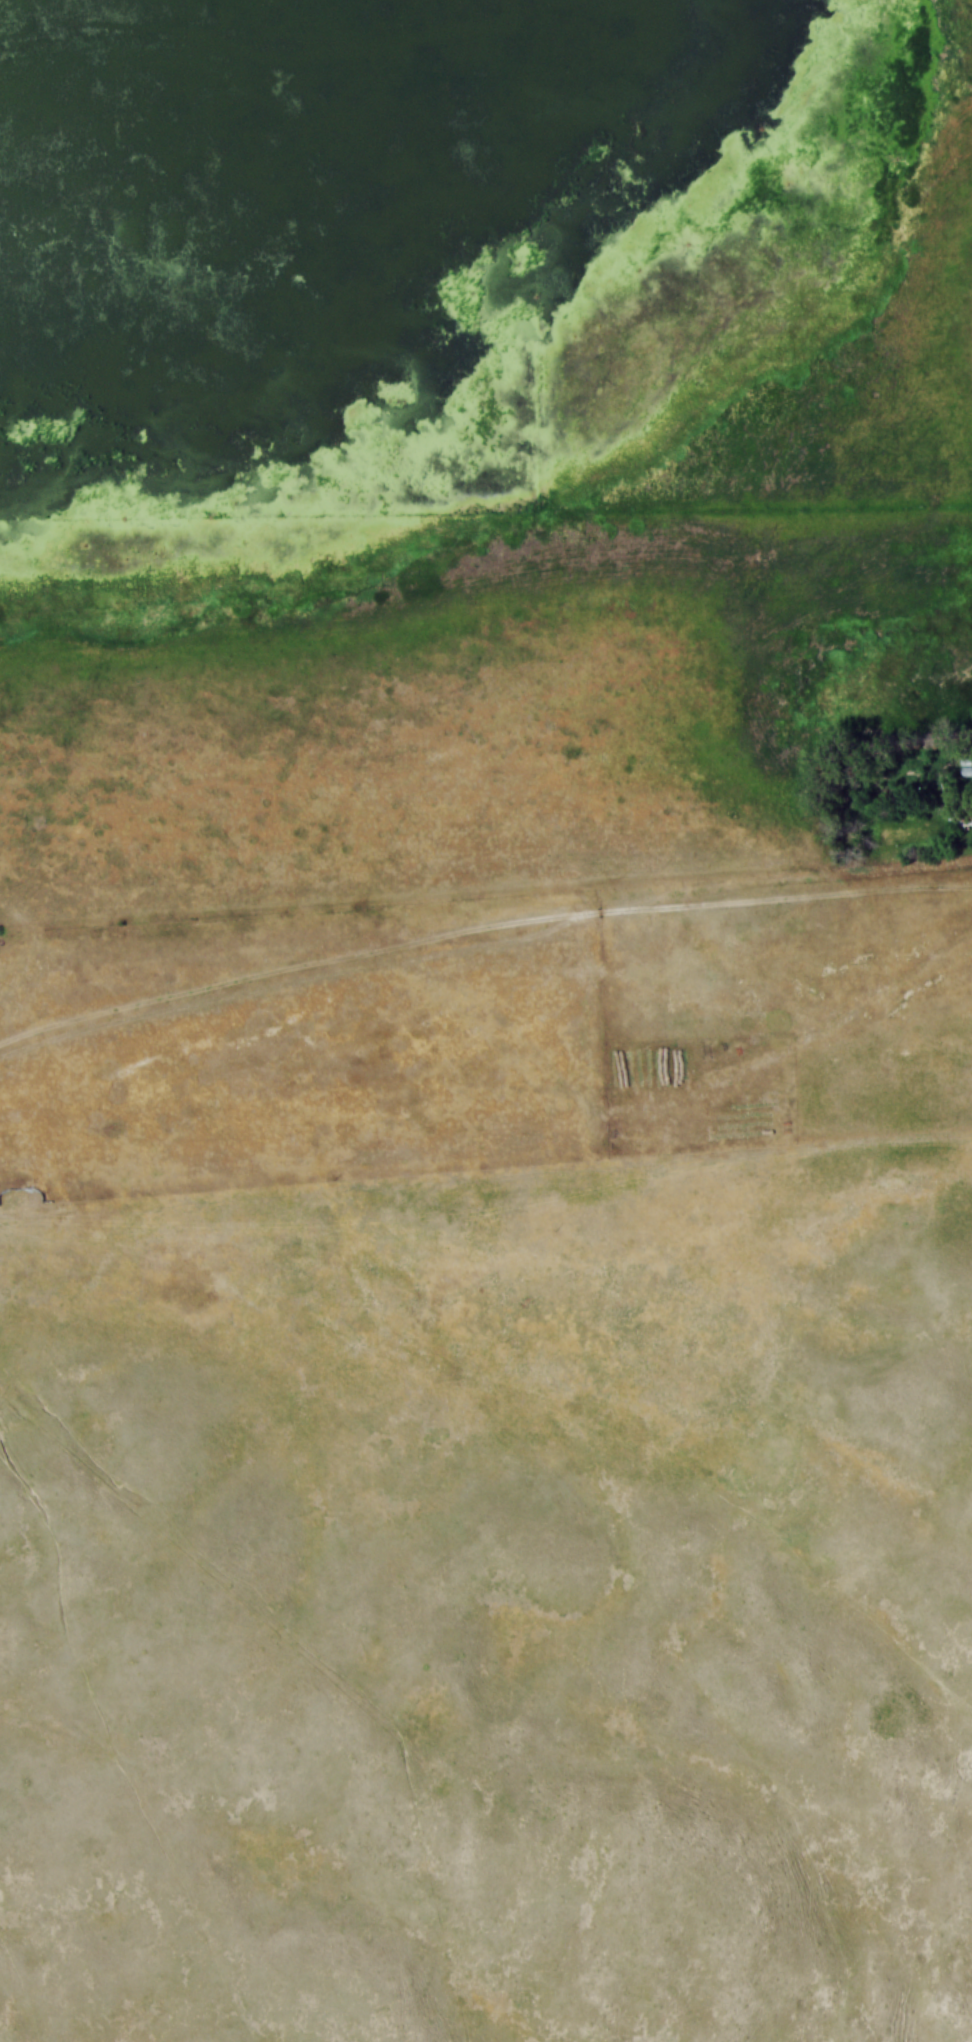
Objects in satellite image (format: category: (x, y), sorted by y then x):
building: (961, 819)
road: (479, 938)

